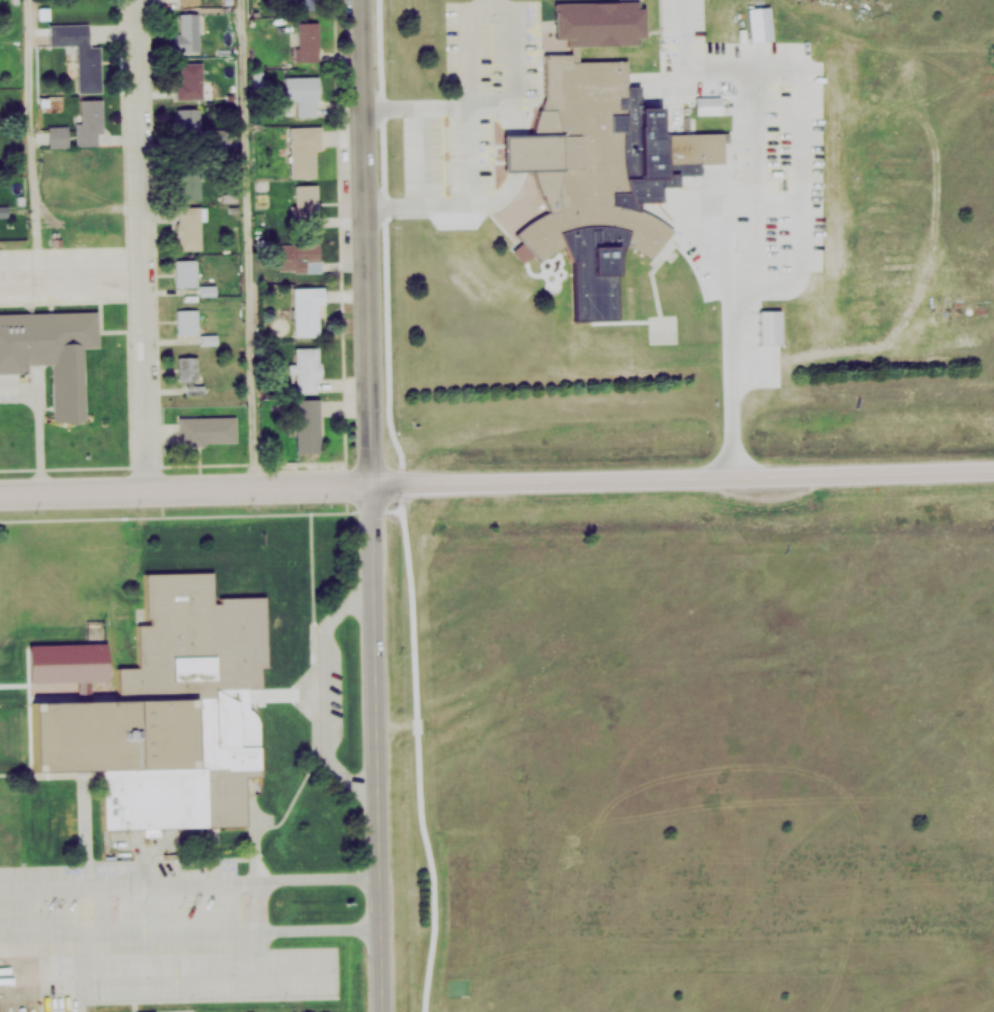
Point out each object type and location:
building: (302, 0)
building: (188, 2)
building: (597, 22)
building: (758, 23)
building: (188, 32)
road: (691, 34)
building: (308, 41)
building: (80, 53)
parking lot: (724, 56)
building: (190, 81)
building: (301, 93)
road: (472, 100)
road: (497, 101)
parking lot: (473, 102)
building: (708, 106)
building: (90, 122)
building: (189, 124)
road: (652, 133)
building: (57, 136)
road: (35, 138)
building: (215, 141)
parking lot: (643, 147)
building: (693, 149)
building: (303, 150)
road: (429, 154)
building: (579, 161)
building: (190, 184)
road: (490, 201)
parking lot: (739, 203)
building: (306, 204)
building: (189, 227)
road: (368, 242)
road: (253, 243)
road: (144, 244)
building: (300, 258)
building: (186, 272)
road: (72, 275)
building: (307, 309)
building: (188, 320)
building: (768, 328)
helipad: (665, 333)
building: (52, 351)
building: (187, 367)
building: (306, 368)
building: (308, 423)
building: (208, 428)
road: (684, 481)
road: (187, 488)
building: (112, 600)
building: (169, 712)
road: (381, 748)
road: (423, 749)
road: (191, 879)
road: (307, 924)

